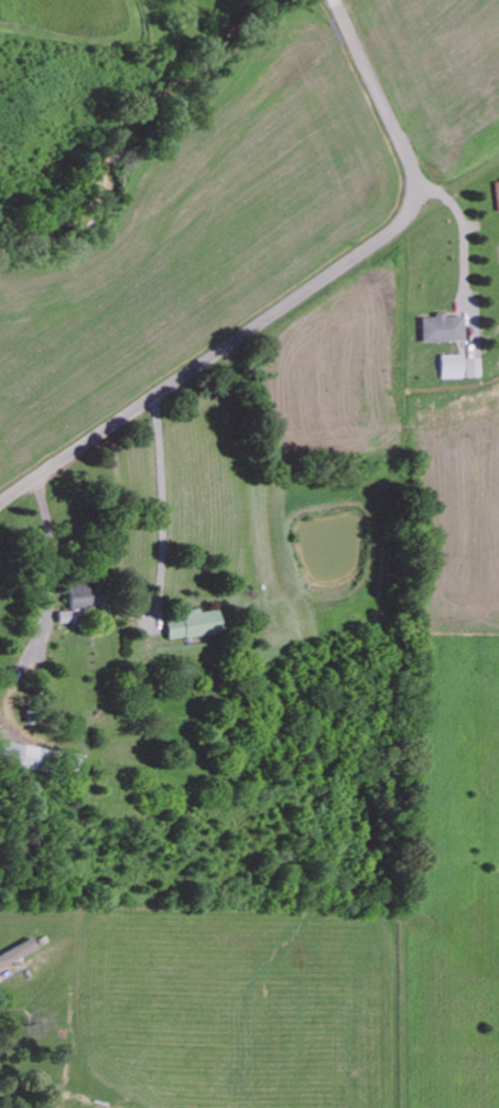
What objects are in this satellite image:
road: (299, 294)
building: (443, 327)
building: (462, 364)
building: (84, 592)
building: (193, 623)
building: (22, 754)
building: (18, 953)

